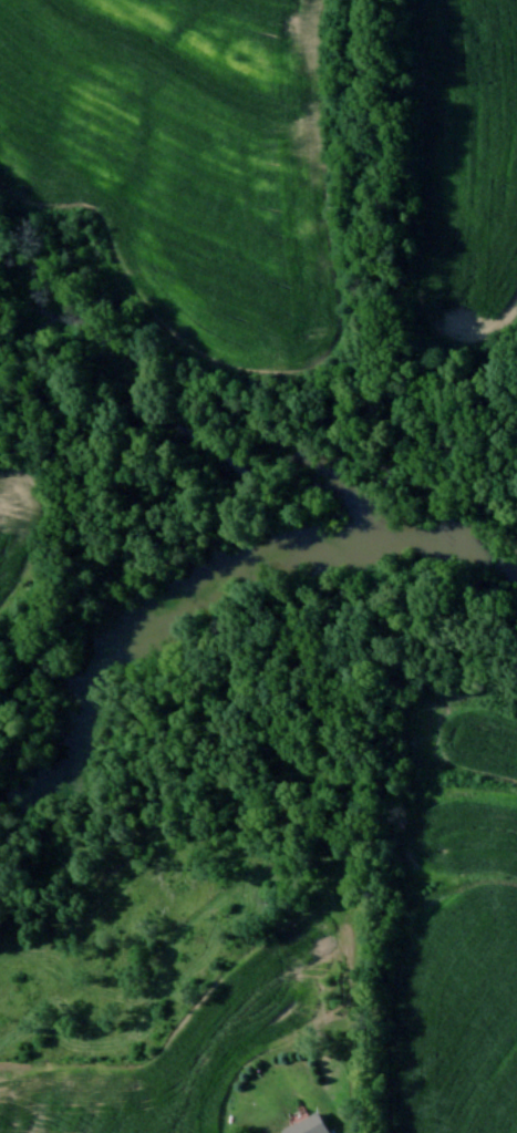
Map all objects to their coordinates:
building: (308, 1125)

